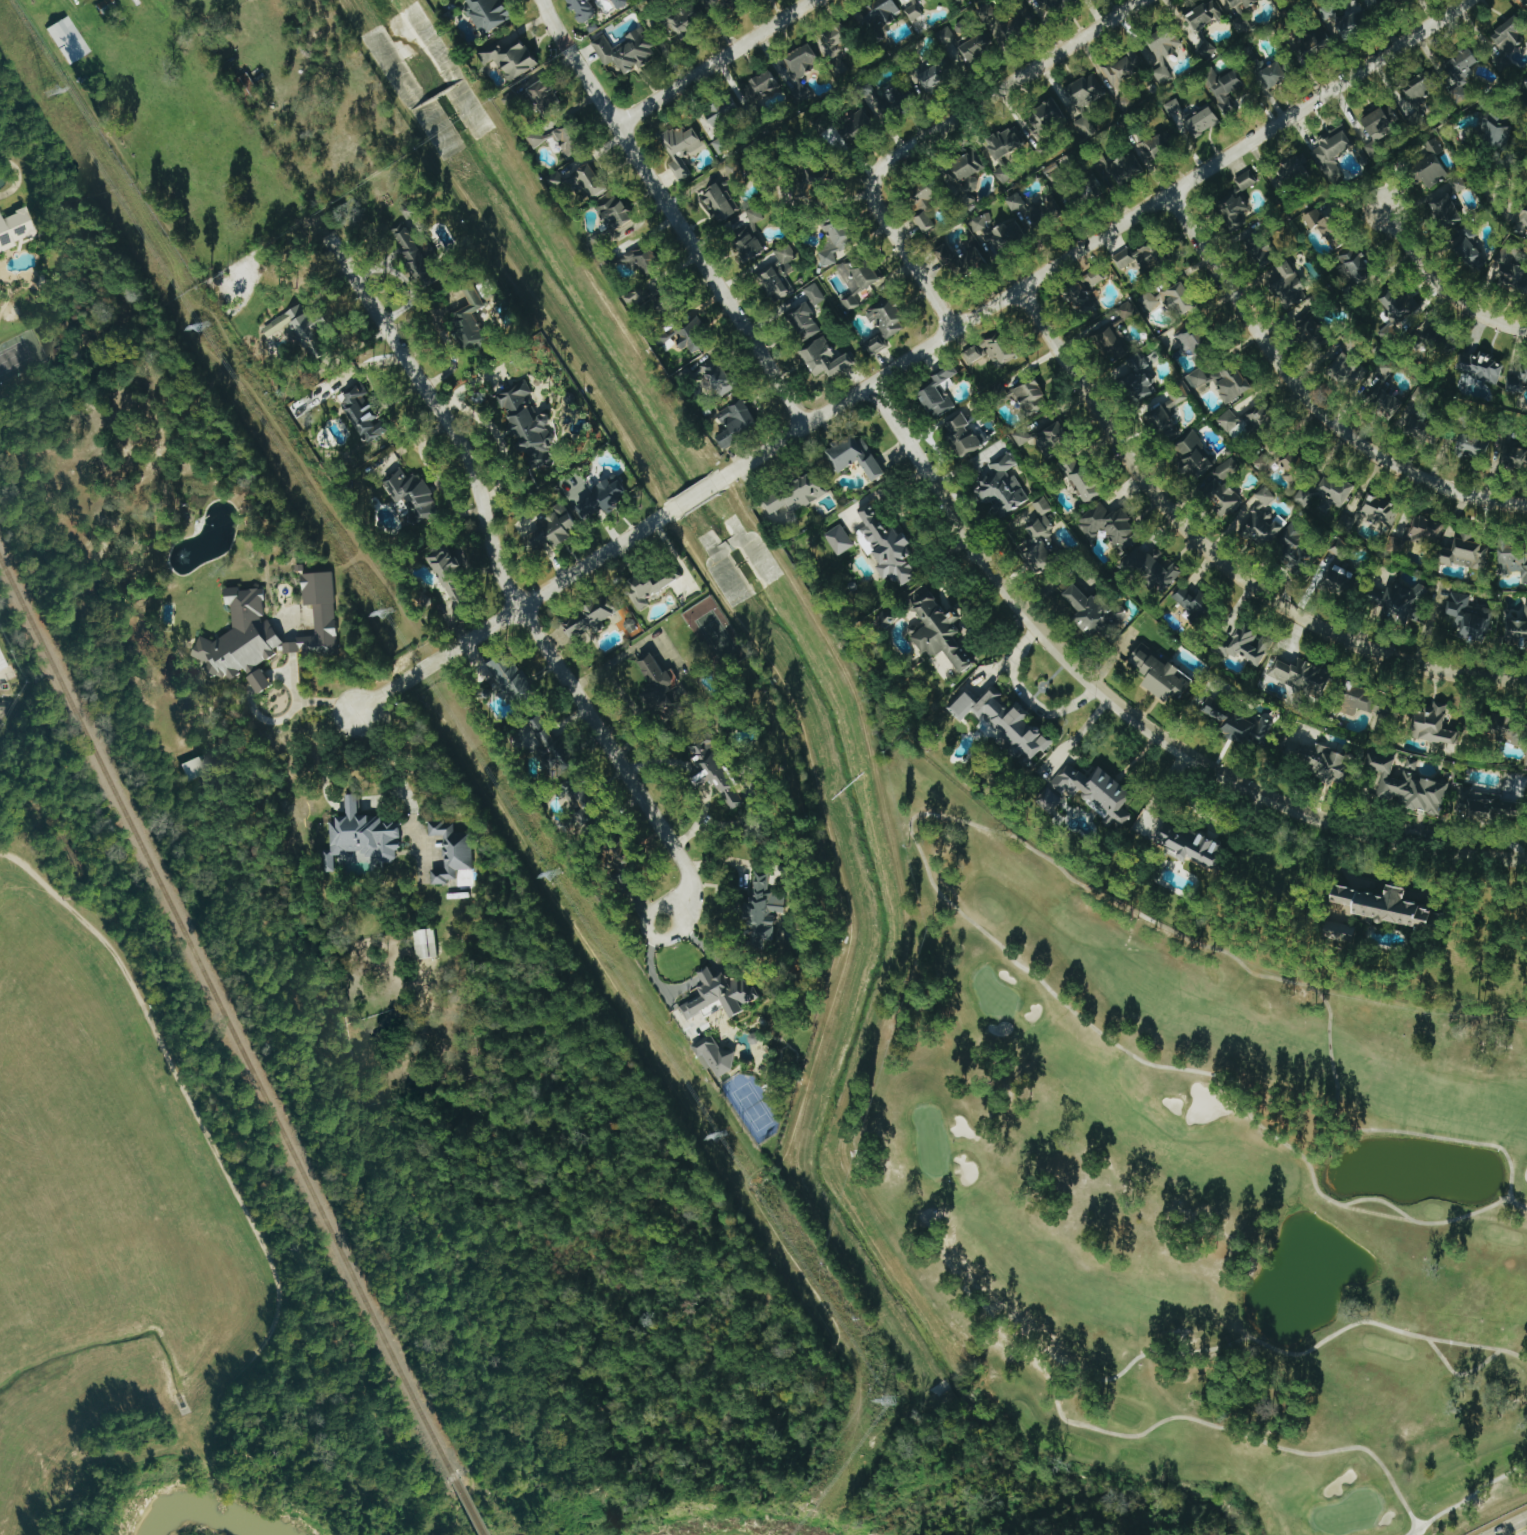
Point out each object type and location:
building: (959, 0)
building: (620, 3)
building: (1389, 3)
building: (721, 4)
building: (1049, 4)
building: (1242, 4)
building: (583, 10)
building: (915, 10)
building: (488, 14)
building: (880, 15)
building: (681, 21)
building: (1002, 22)
building: (1354, 23)
building: (1510, 36)
building: (68, 40)
building: (951, 45)
building: (1315, 45)
building: (976, 49)
building: (626, 50)
building: (1163, 50)
building: (511, 57)
building: (803, 60)
road: (713, 62)
building: (1125, 68)
building: (1459, 74)
building: (1274, 76)
building: (763, 85)
road: (1004, 88)
building: (1419, 89)
power tower: (54, 90)
building: (1087, 90)
building: (802, 93)
building: (546, 98)
building: (895, 100)
building: (1175, 110)
building: (722, 111)
building: (1049, 111)
building: (859, 122)
building: (1202, 122)
building: (1085, 127)
building: (1379, 129)
building: (1494, 131)
building: (1007, 140)
building: (567, 142)
building: (722, 144)
building: (1154, 147)
building: (681, 148)
building: (1332, 154)
building: (1430, 168)
building: (1297, 169)
building: (966, 170)
building: (1117, 170)
building: (1054, 172)
building: (1004, 173)
building: (574, 179)
building: (1246, 181)
building: (924, 194)
building: (720, 201)
building: (1016, 201)
building: (410, 211)
building: (1236, 211)
road: (671, 212)
building: (1446, 212)
building: (615, 213)
building: (1524, 218)
building: (925, 221)
building: (1328, 227)
building: (14, 228)
building: (998, 233)
building: (748, 234)
building: (835, 241)
building: (1468, 247)
building: (1259, 249)
building: (414, 252)
building: (960, 255)
building: (1142, 256)
road: (909, 257)
building: (642, 258)
building: (1356, 264)
building: (1510, 269)
building: (775, 270)
building: (858, 276)
building: (1093, 277)
road: (405, 280)
building: (1290, 284)
road: (1442, 287)
building: (1179, 298)
building: (647, 299)
building: (1081, 299)
building: (1149, 300)
building: (1127, 310)
building: (806, 311)
building: (1396, 312)
building: (471, 319)
building: (883, 323)
building: (1314, 326)
power tower: (202, 327)
building: (300, 330)
road: (443, 334)
building: (693, 336)
building: (1194, 342)
building: (991, 350)
road: (916, 354)
building: (825, 358)
building: (1126, 362)
building: (1480, 368)
building: (1348, 369)
building: (1385, 369)
building: (716, 376)
building: (1198, 377)
building: (1518, 378)
building: (1231, 381)
building: (936, 391)
building: (1420, 395)
building: (1178, 396)
building: (1031, 397)
road: (1309, 400)
building: (1387, 403)
building: (365, 414)
building: (1260, 415)
building: (1229, 420)
building: (736, 422)
building: (1162, 422)
building: (527, 423)
building: (1419, 426)
building: (963, 434)
building: (1022, 435)
road: (498, 436)
building: (1052, 436)
building: (1474, 446)
building: (1193, 454)
building: (854, 455)
building: (1515, 456)
building: (1295, 466)
building: (1082, 479)
building: (1002, 485)
building: (1221, 487)
building: (1326, 493)
building: (413, 494)
building: (794, 494)
building: (603, 498)
building: (1043, 506)
building: (1377, 512)
building: (1261, 519)
building: (1110, 525)
building: (552, 529)
building: (1423, 531)
building: (840, 539)
building: (1040, 545)
building: (888, 546)
building: (1295, 546)
building: (1465, 551)
building: (1513, 560)
road: (1219, 561)
building: (1154, 566)
building: (450, 576)
building: (1339, 583)
building: (649, 586)
road: (508, 591)
building: (1400, 600)
building: (1196, 604)
power tower: (391, 610)
building: (1094, 611)
building: (590, 617)
building: (1466, 618)
building: (268, 629)
building: (938, 629)
building: (1516, 629)
building: (1247, 645)
building: (1, 665)
building: (1161, 675)
building: (1302, 675)
building: (507, 679)
building: (259, 680)
road: (260, 680)
road: (288, 680)
building: (655, 680)
building: (1363, 701)
road: (292, 707)
road: (1133, 717)
building: (1004, 722)
building: (1237, 722)
building: (1436, 726)
building: (1511, 731)
building: (543, 742)
building: (1526, 755)
road: (328, 759)
road: (396, 762)
building: (1328, 763)
building: (715, 772)
building: (1408, 783)
building: (1516, 783)
building: (1088, 793)
building: (581, 802)
road: (352, 803)
building: (1486, 804)
building: (362, 837)
building: (1180, 838)
road: (835, 845)
building: (452, 851)
power tower: (555, 873)
building: (1385, 907)
building: (764, 908)
building: (1342, 930)
road: (705, 933)
building: (426, 944)
road: (714, 970)
road: (663, 972)
building: (718, 998)
railway: (227, 1020)
building: (716, 1057)
road: (330, 1071)
road: (681, 1094)
power tower: (720, 1134)
power tower: (886, 1402)
railway: (466, 1508)
river: (214, 1510)
road: (418, 1516)
road: (1516, 1529)

